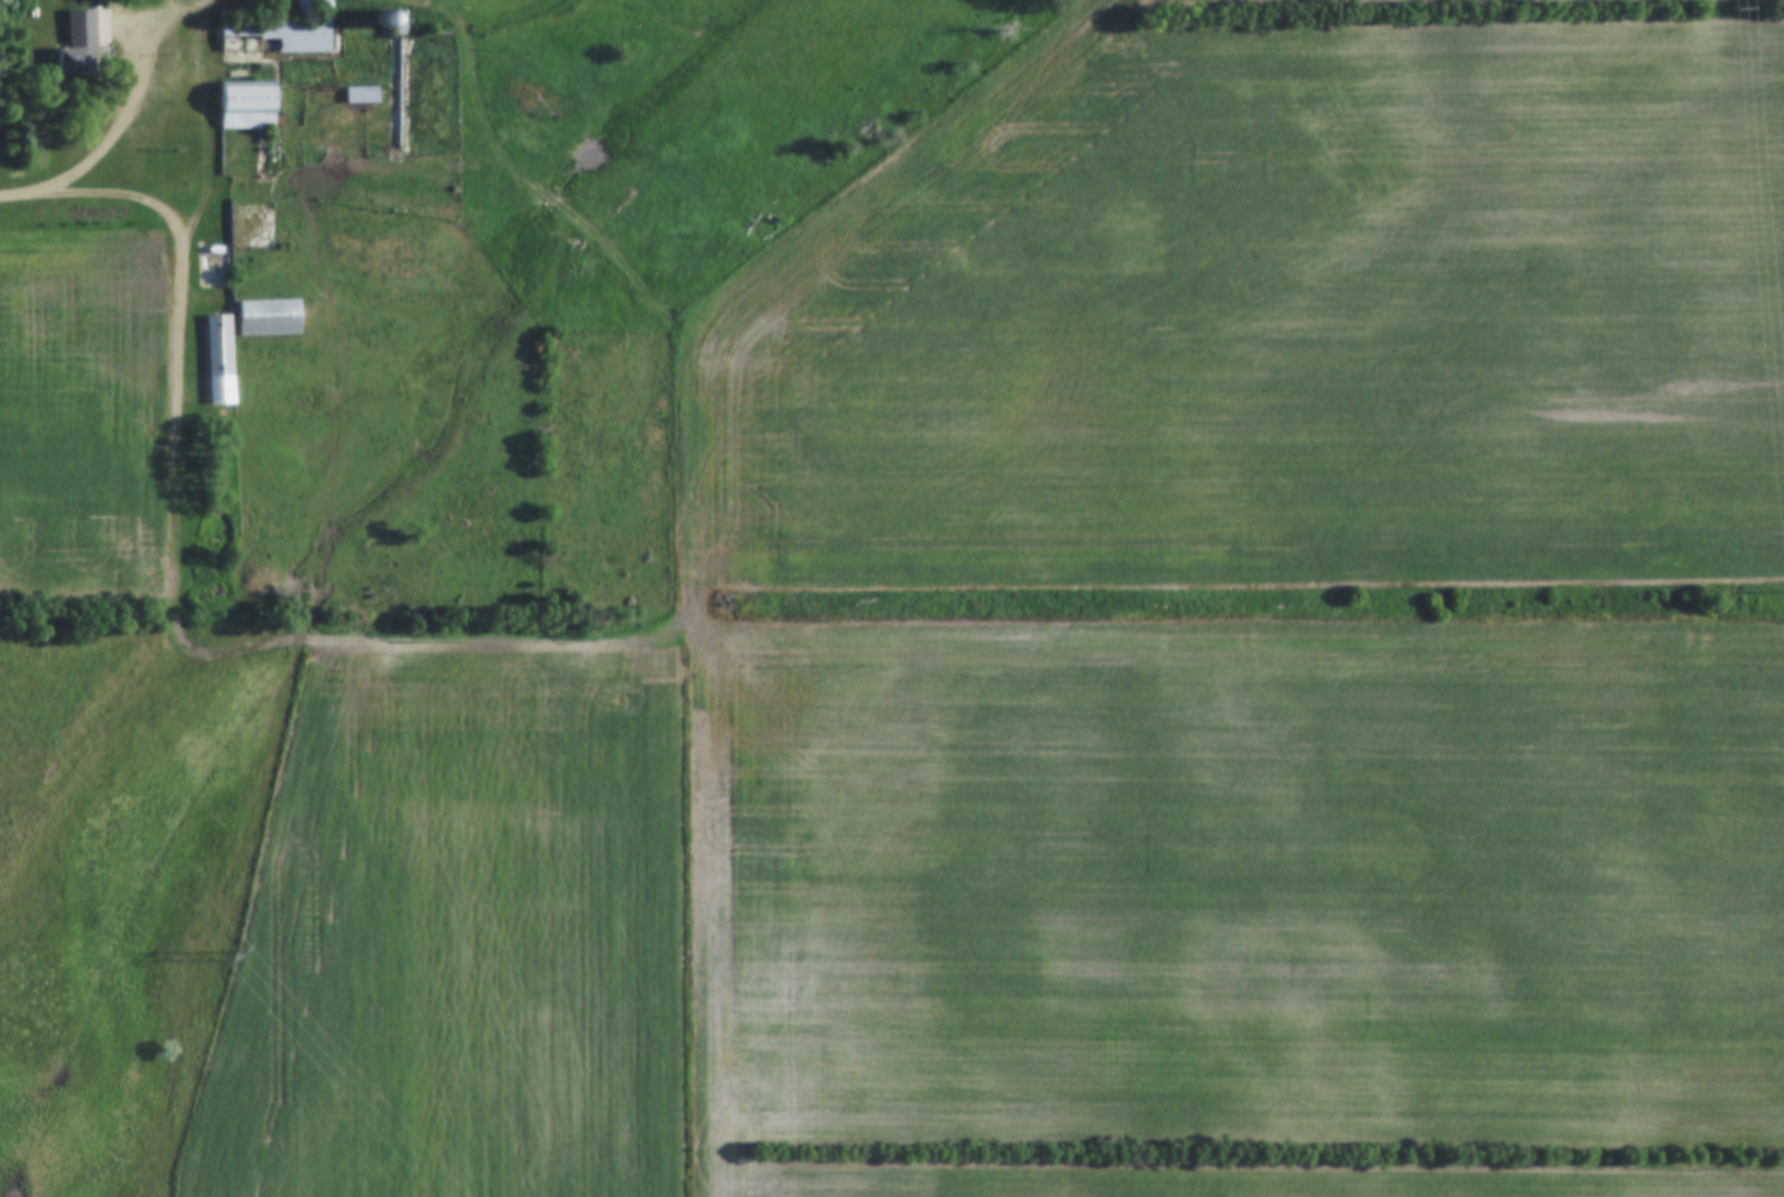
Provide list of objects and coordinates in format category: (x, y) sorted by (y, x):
road: (422, 0)
power tower: (1731, 4)
building: (391, 21)
building: (300, 35)
building: (80, 43)
building: (363, 94)
building: (249, 105)
road: (129, 122)
building: (271, 317)
building: (220, 354)
road: (183, 603)
power tower: (229, 952)

